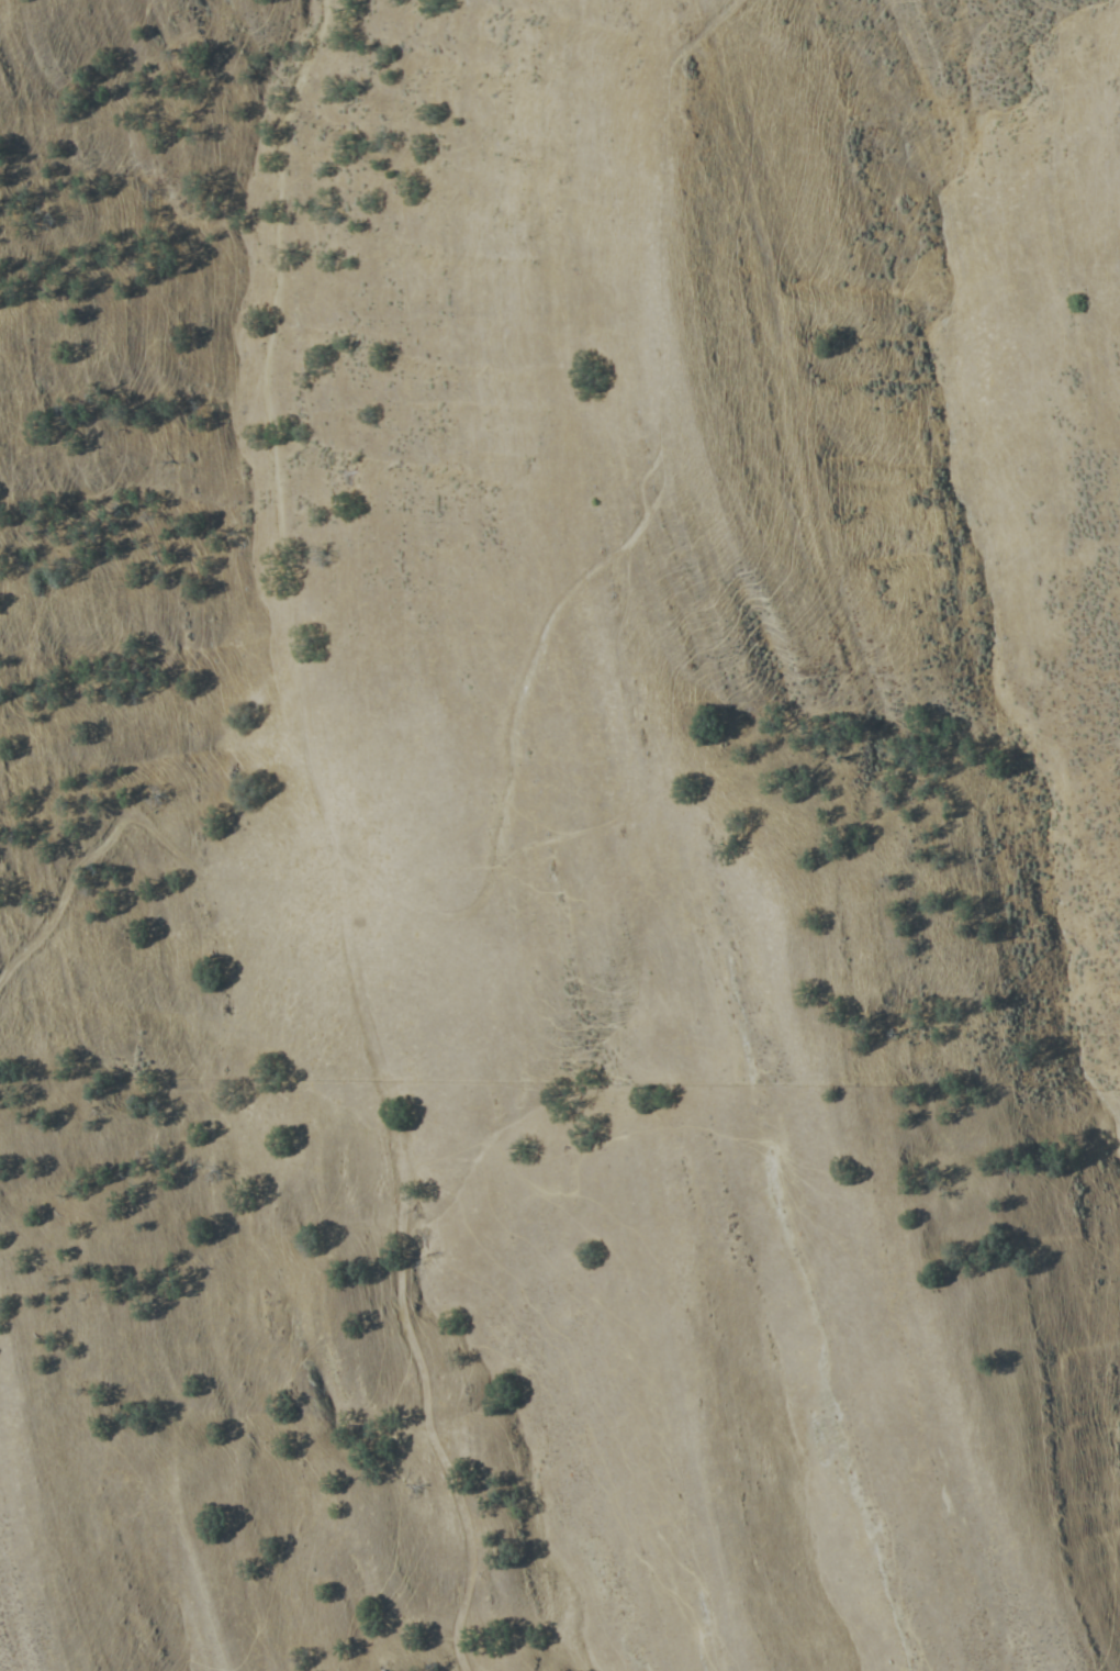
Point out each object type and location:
road: (133, 1647)

